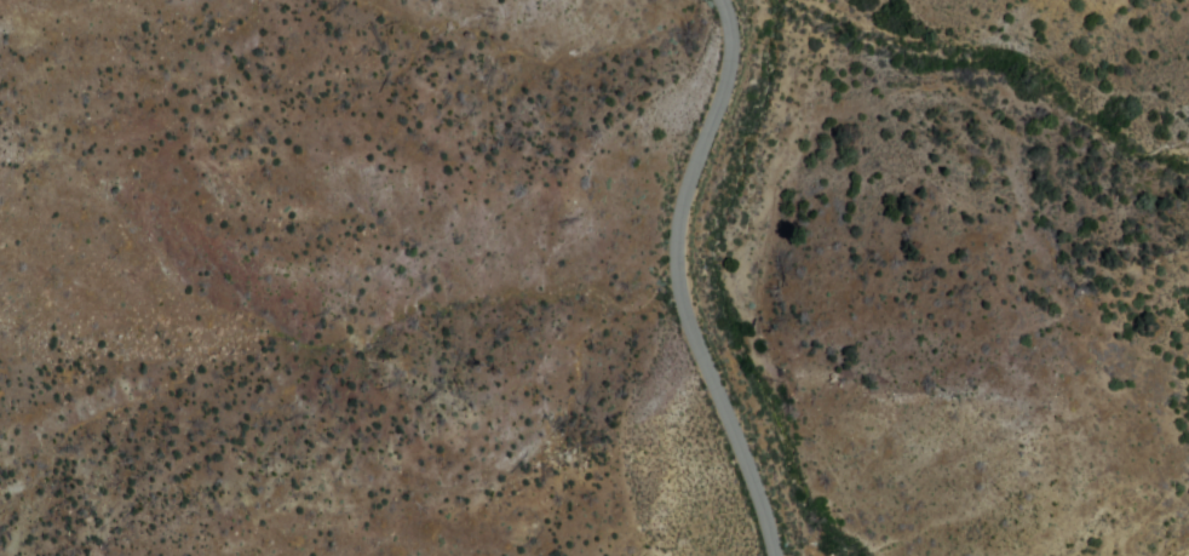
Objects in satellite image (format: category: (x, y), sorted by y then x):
road: (657, 281)

